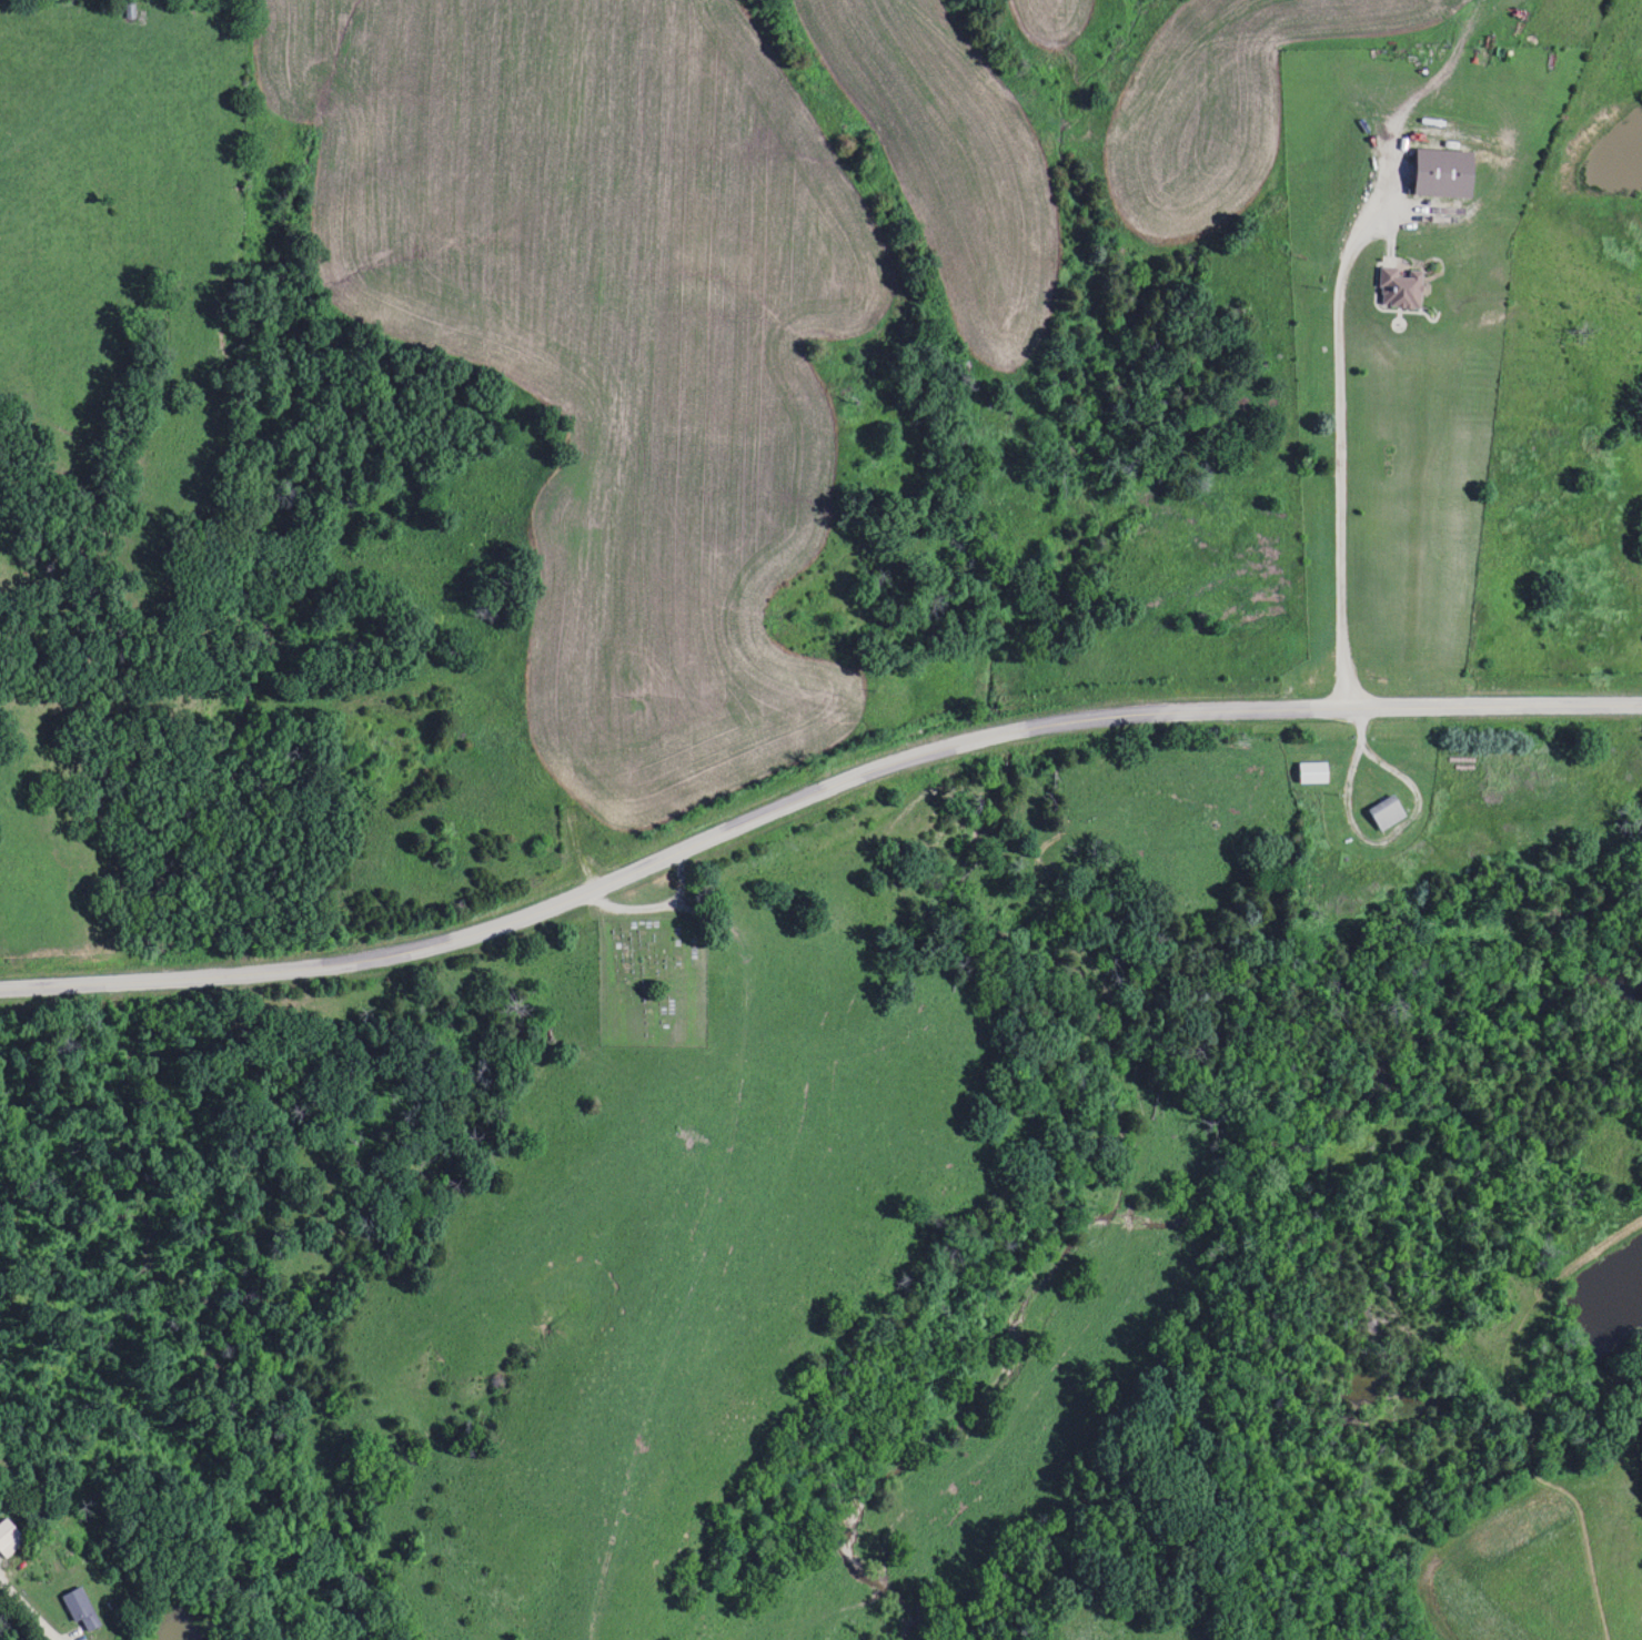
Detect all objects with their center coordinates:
building: (1400, 283)
building: (996, 417)
road: (1337, 452)
road: (812, 798)
building: (1387, 811)
park: (651, 979)
building: (9, 1538)
building: (80, 1608)
road: (26, 1612)

